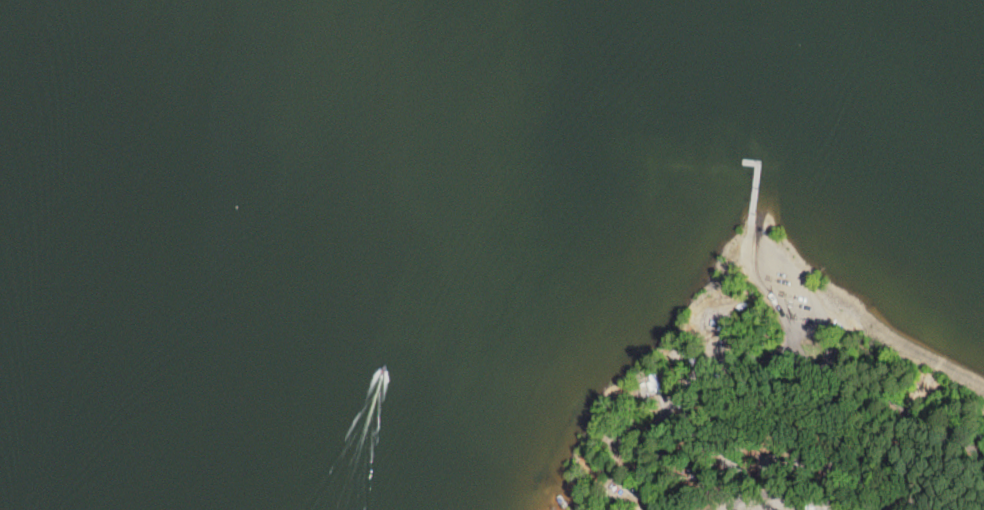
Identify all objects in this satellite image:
road: (777, 353)
park: (773, 404)

